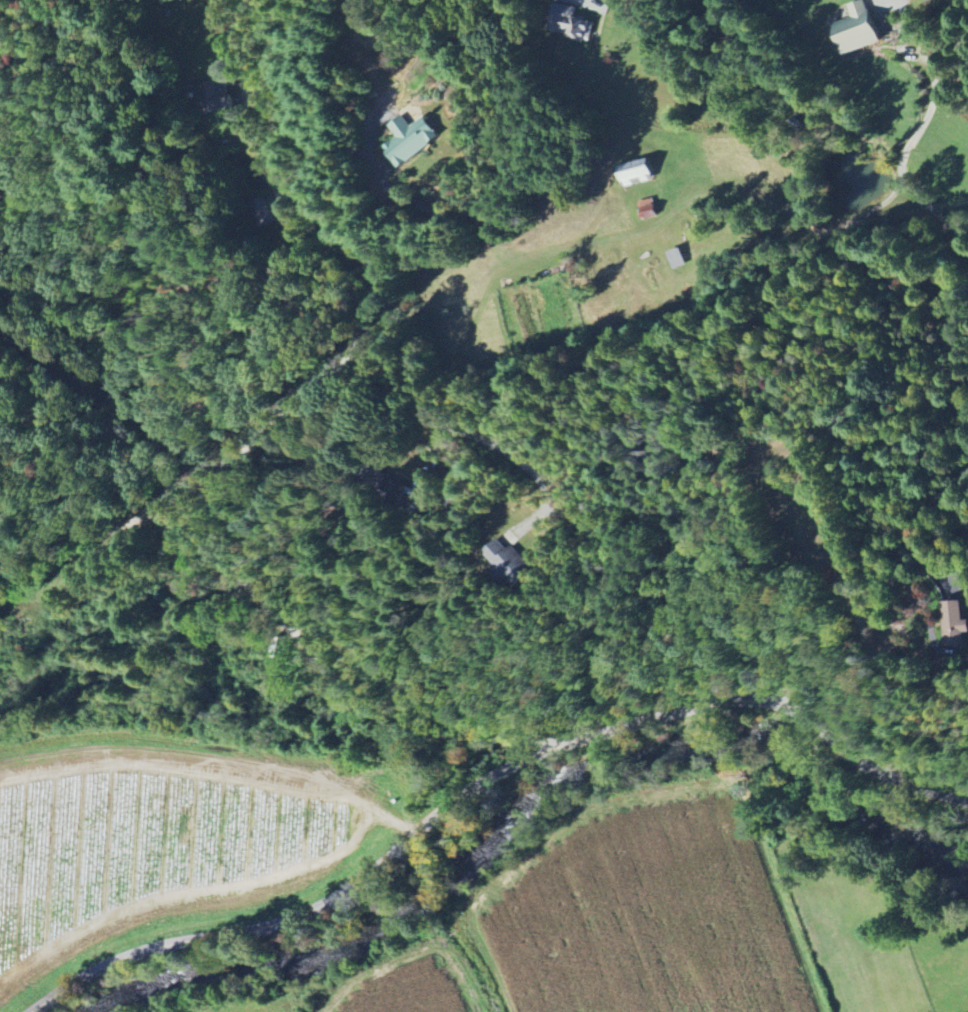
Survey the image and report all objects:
building: (569, 23)
building: (857, 30)
road: (920, 130)
building: (409, 140)
building: (633, 172)
road: (494, 193)
road: (405, 197)
building: (646, 210)
road: (457, 425)
park: (797, 505)
road: (200, 508)
road: (102, 535)
road: (8, 559)
building: (508, 564)
building: (954, 624)
river: (748, 760)
road: (486, 778)
river: (471, 863)
river: (271, 956)

